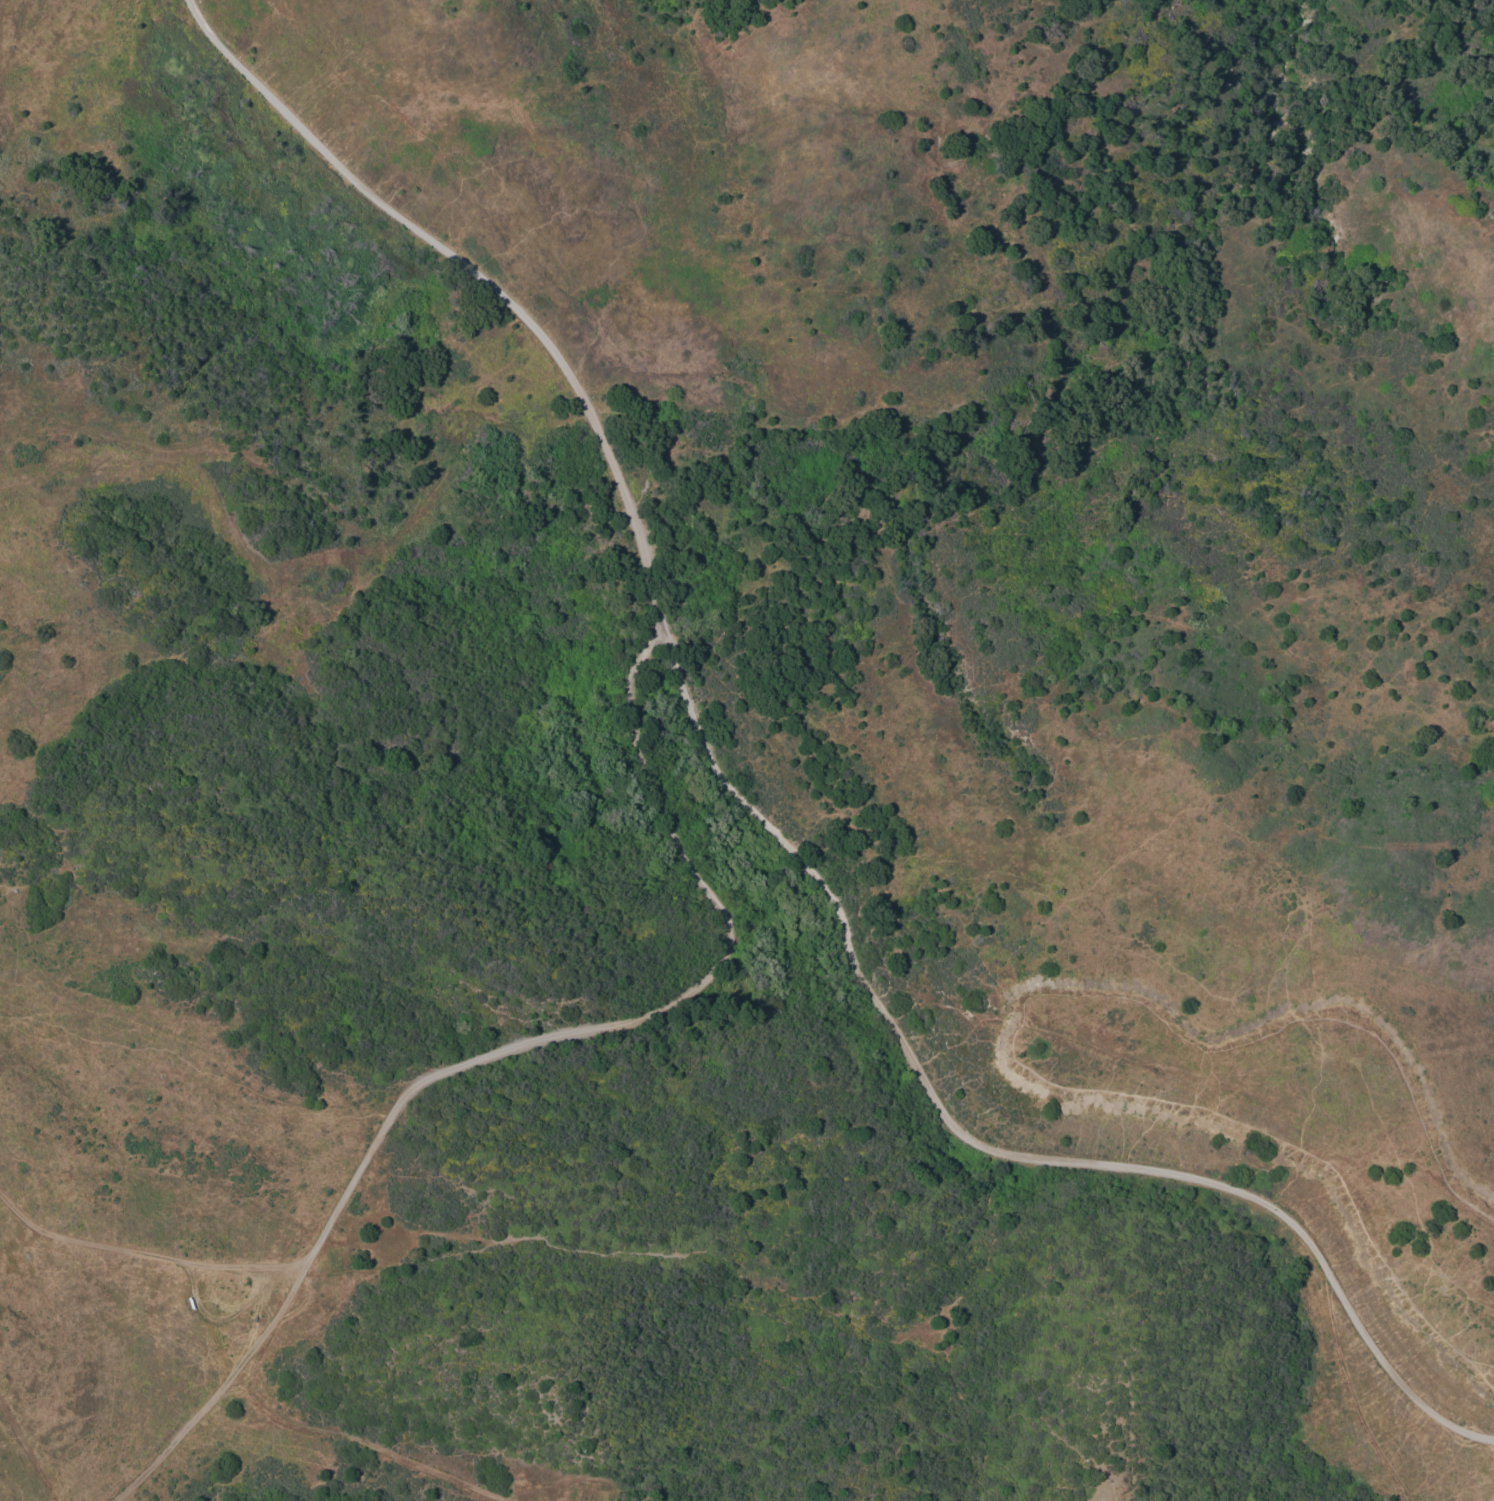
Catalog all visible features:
road: (634, 521)
road: (503, 1056)
road: (1103, 1167)
road: (1364, 1335)

